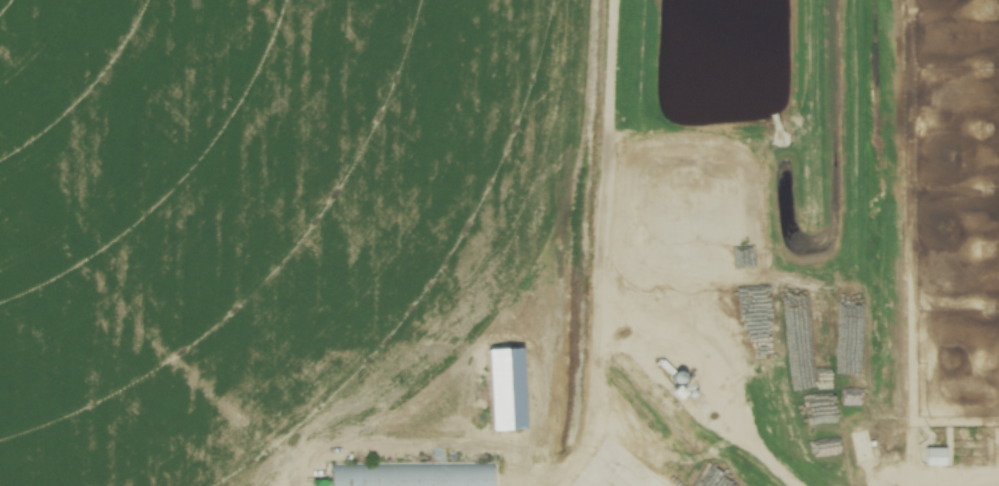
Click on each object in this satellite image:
building: (724, 203)
building: (679, 377)
building: (935, 456)
building: (409, 474)
road: (977, 480)

